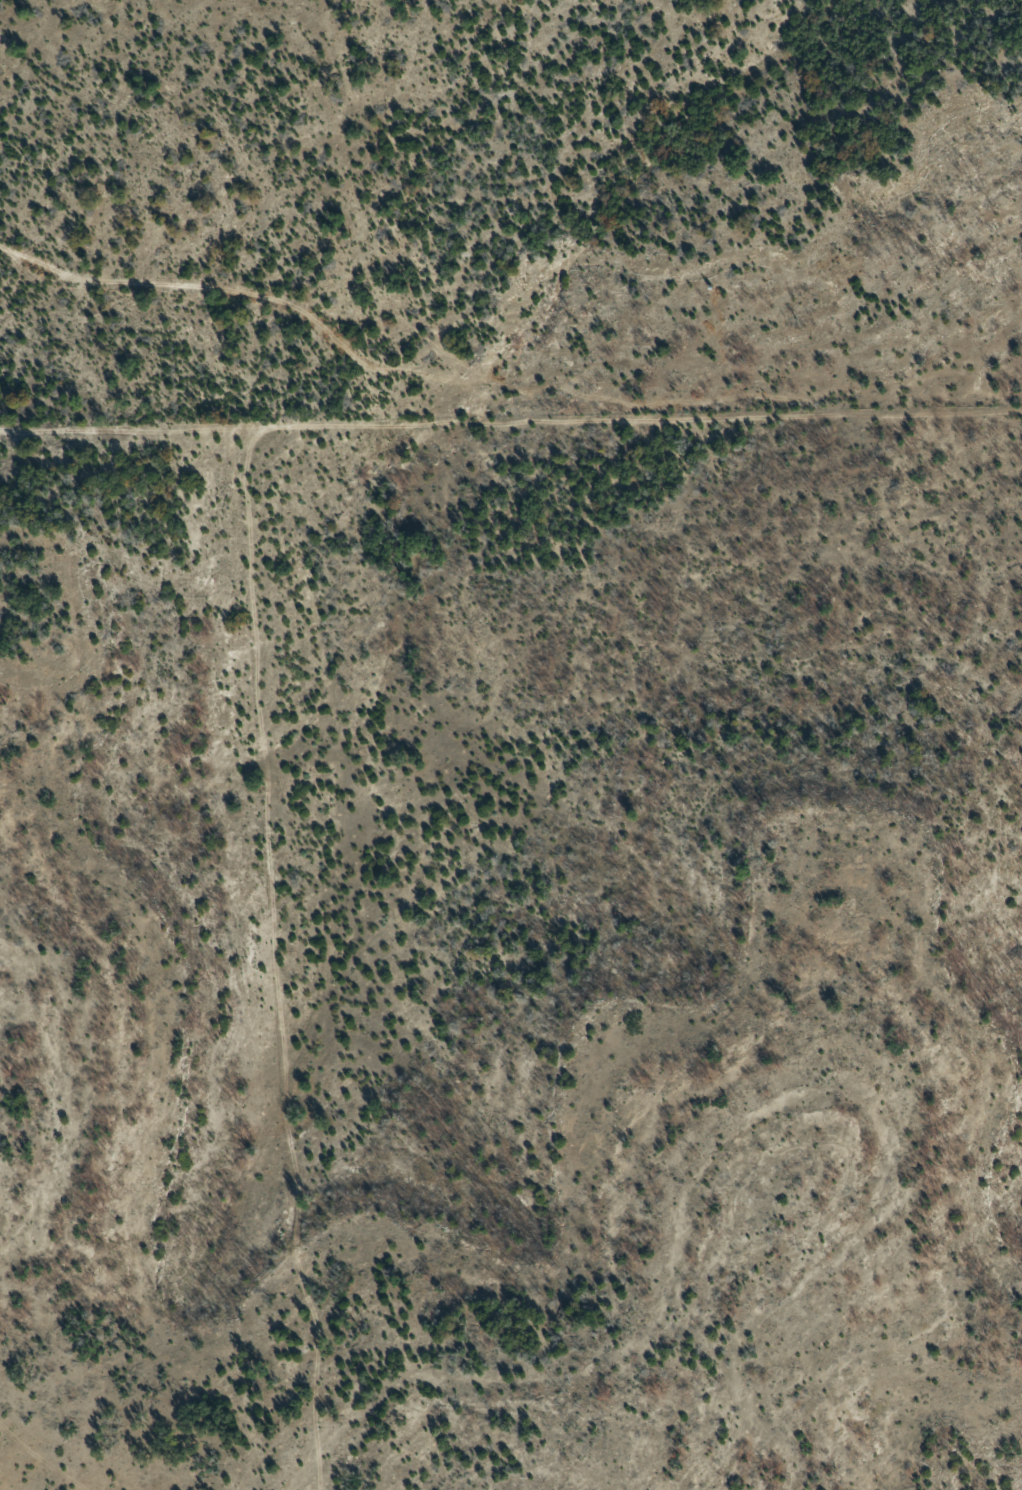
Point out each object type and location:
road: (511, 412)

